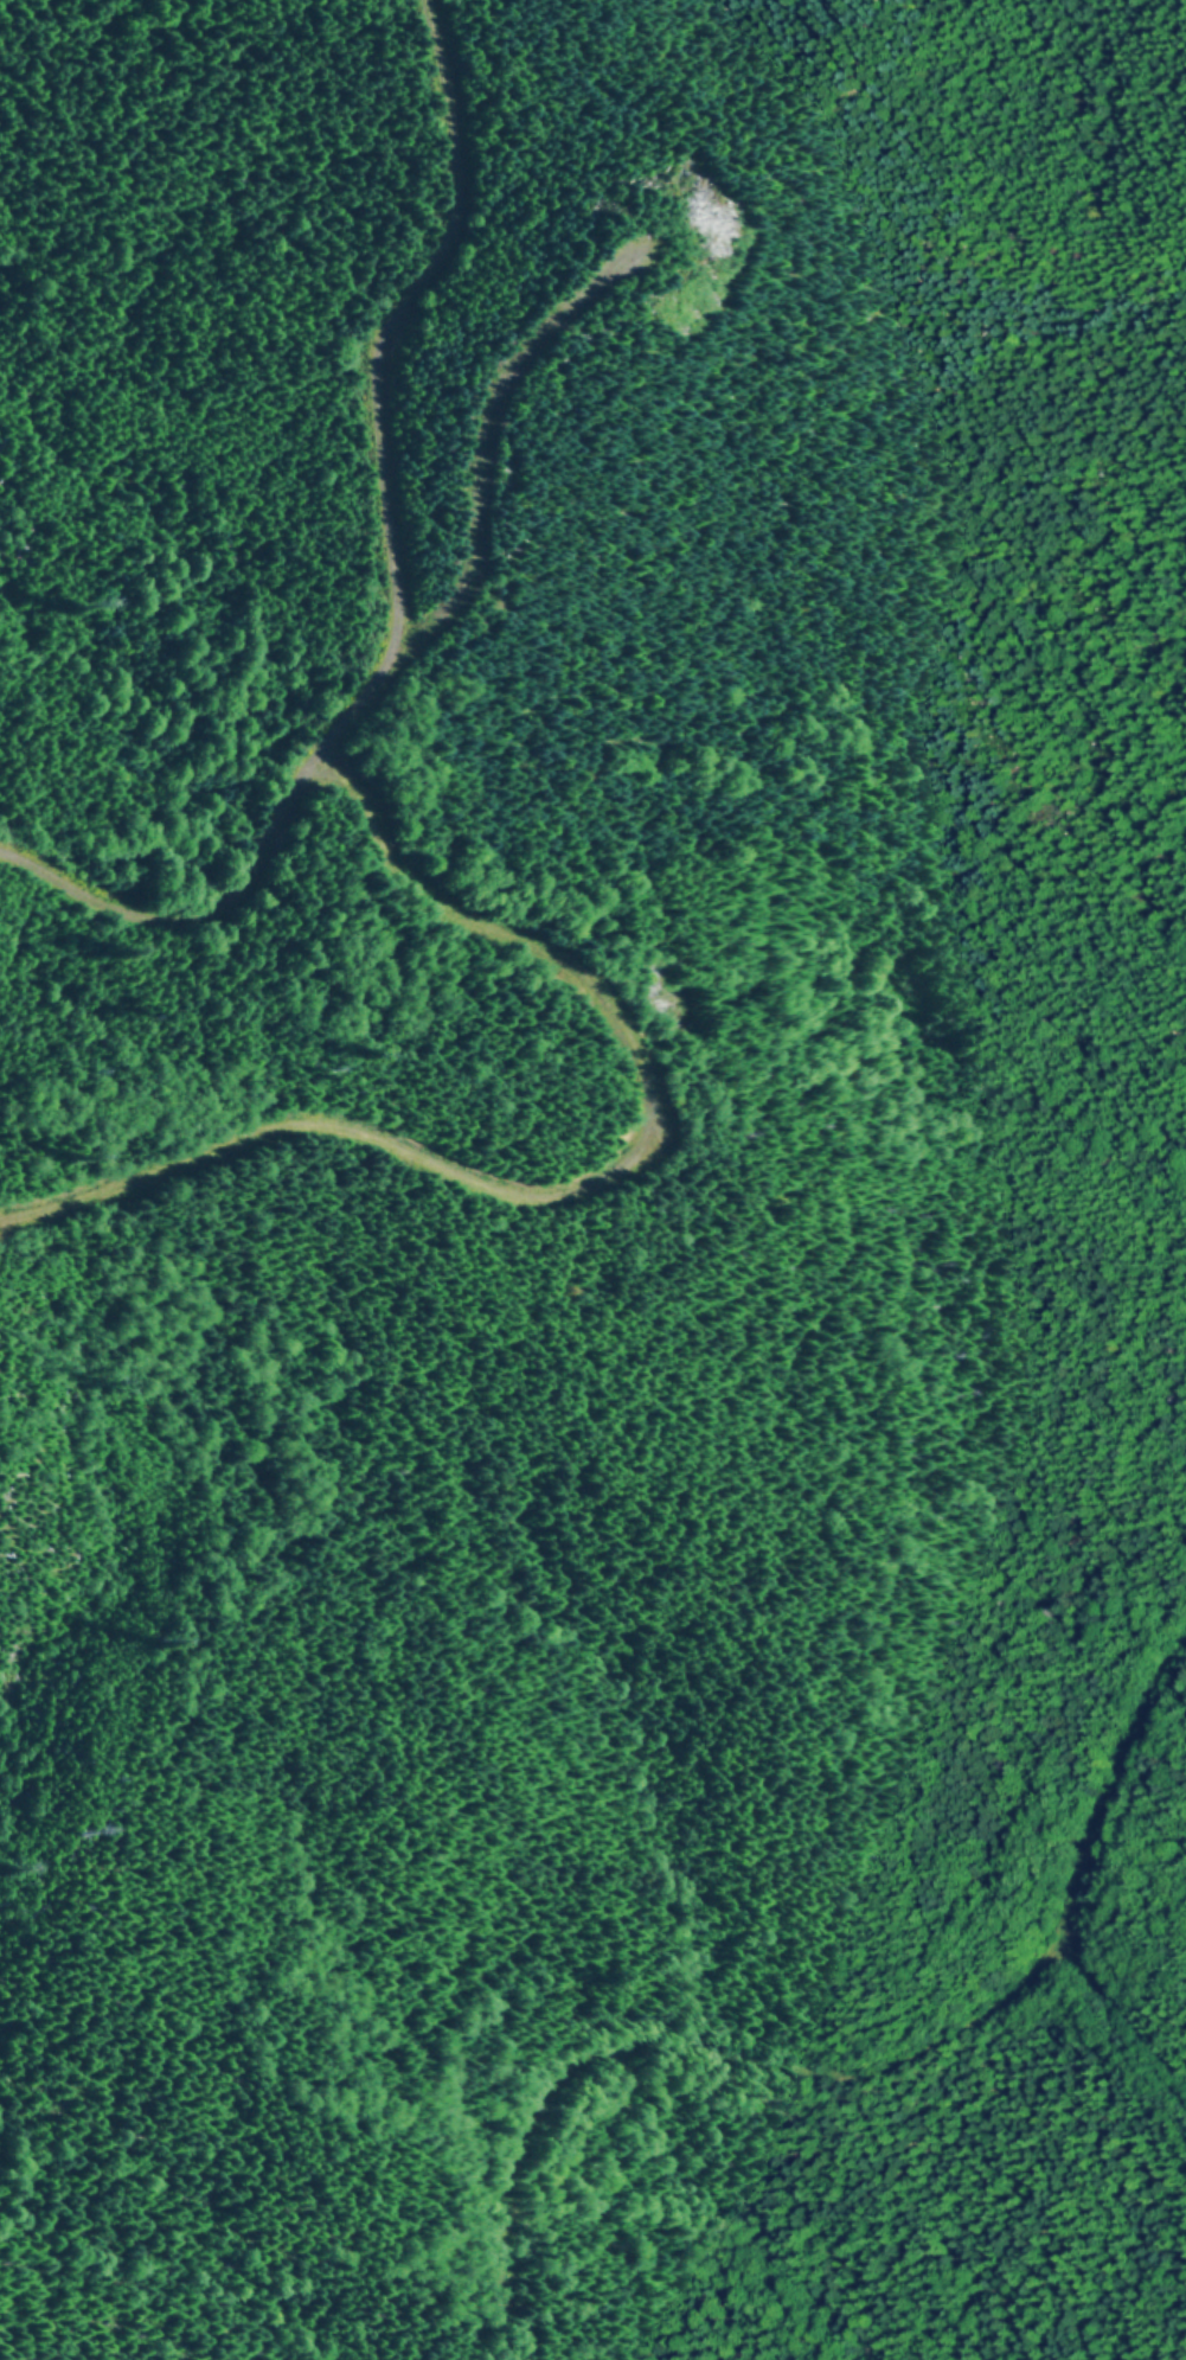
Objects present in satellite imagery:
road: (395, 586)
road: (975, 2064)

